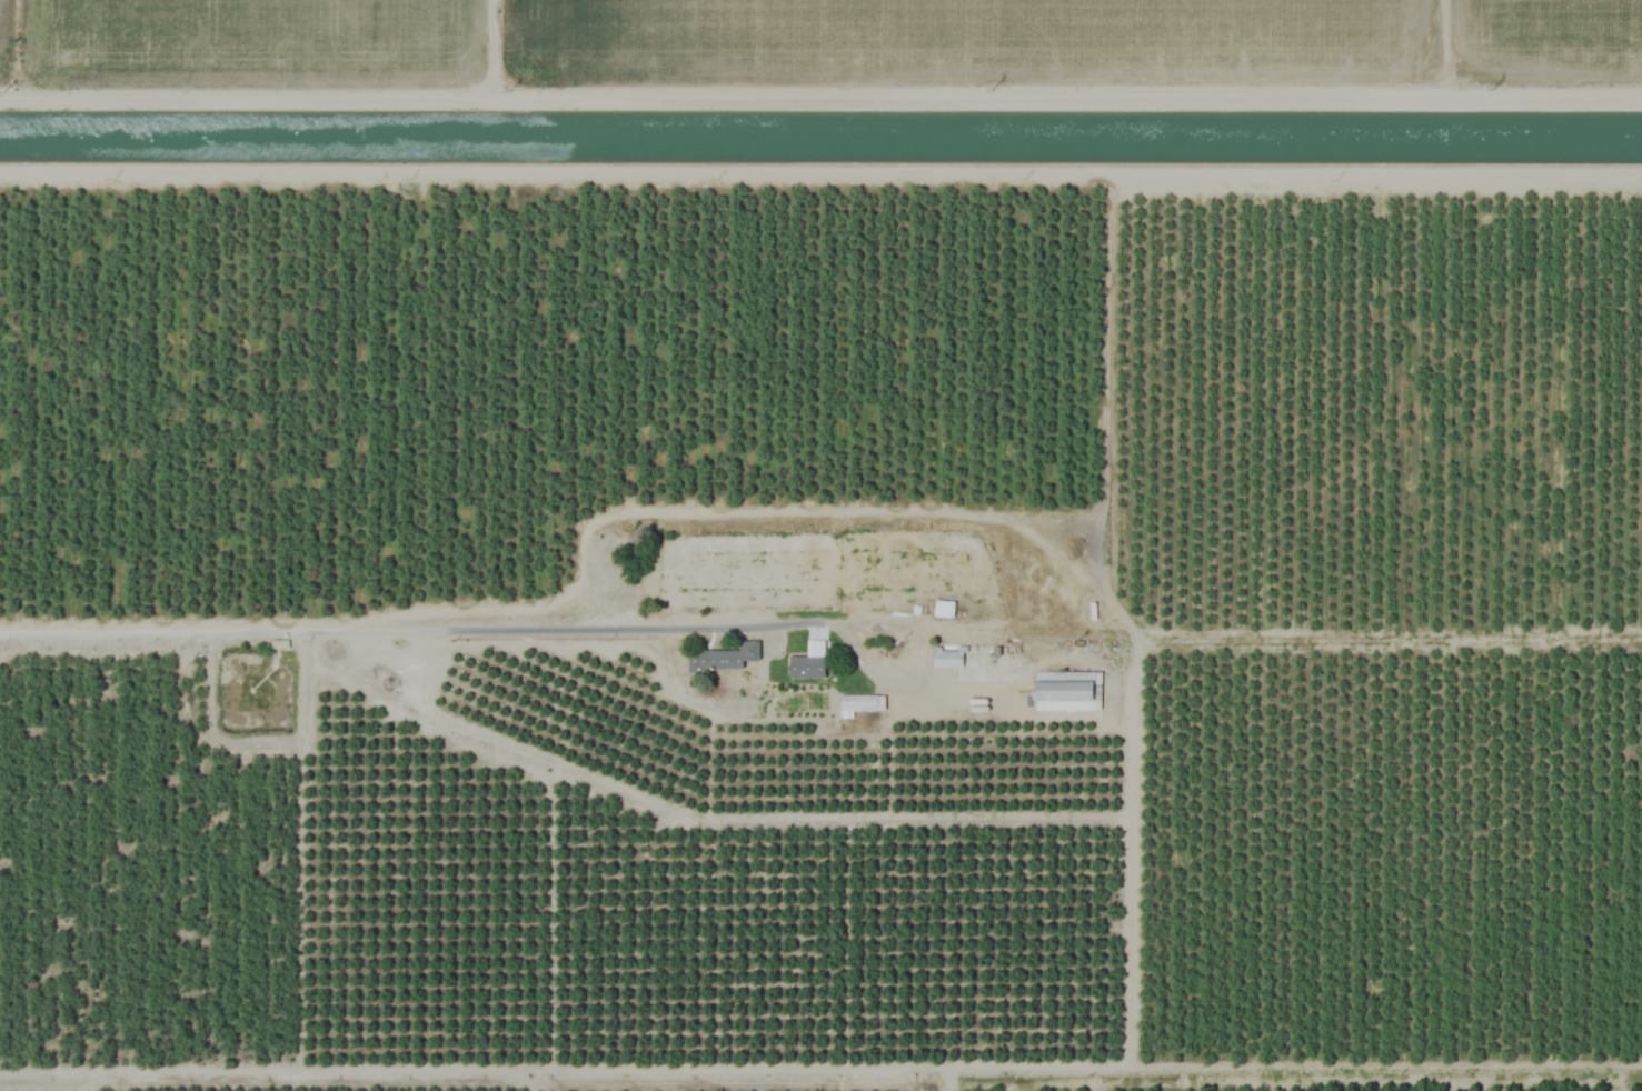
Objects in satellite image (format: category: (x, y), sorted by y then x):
building: (948, 611)
road: (221, 629)
road: (629, 629)
building: (723, 658)
building: (946, 658)
building: (808, 665)
building: (1067, 691)
building: (860, 703)

